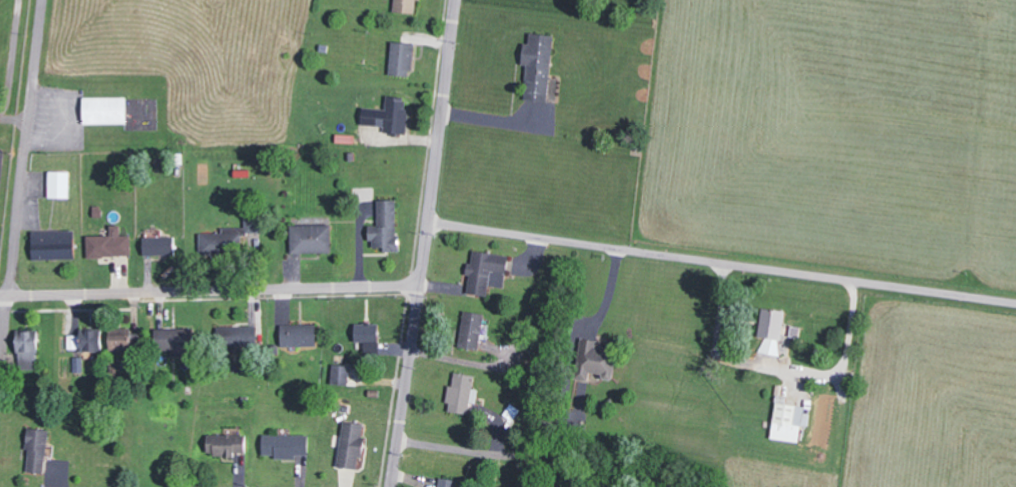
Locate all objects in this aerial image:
building: (406, 6)
building: (403, 59)
building: (539, 66)
building: (106, 110)
building: (390, 115)
building: (60, 184)
road: (21, 195)
building: (387, 227)
building: (312, 238)
building: (235, 239)
building: (159, 243)
road: (424, 243)
building: (110, 244)
building: (54, 245)
road: (721, 262)
building: (486, 271)
road: (209, 290)
building: (472, 330)
building: (772, 331)
building: (368, 332)
building: (300, 335)
building: (239, 336)
building: (93, 340)
building: (75, 342)
building: (177, 342)
building: (122, 343)
building: (29, 350)
building: (597, 361)
building: (341, 374)
building: (461, 394)
building: (791, 418)
building: (227, 443)
building: (352, 444)
building: (286, 445)
building: (37, 449)
building: (447, 482)

